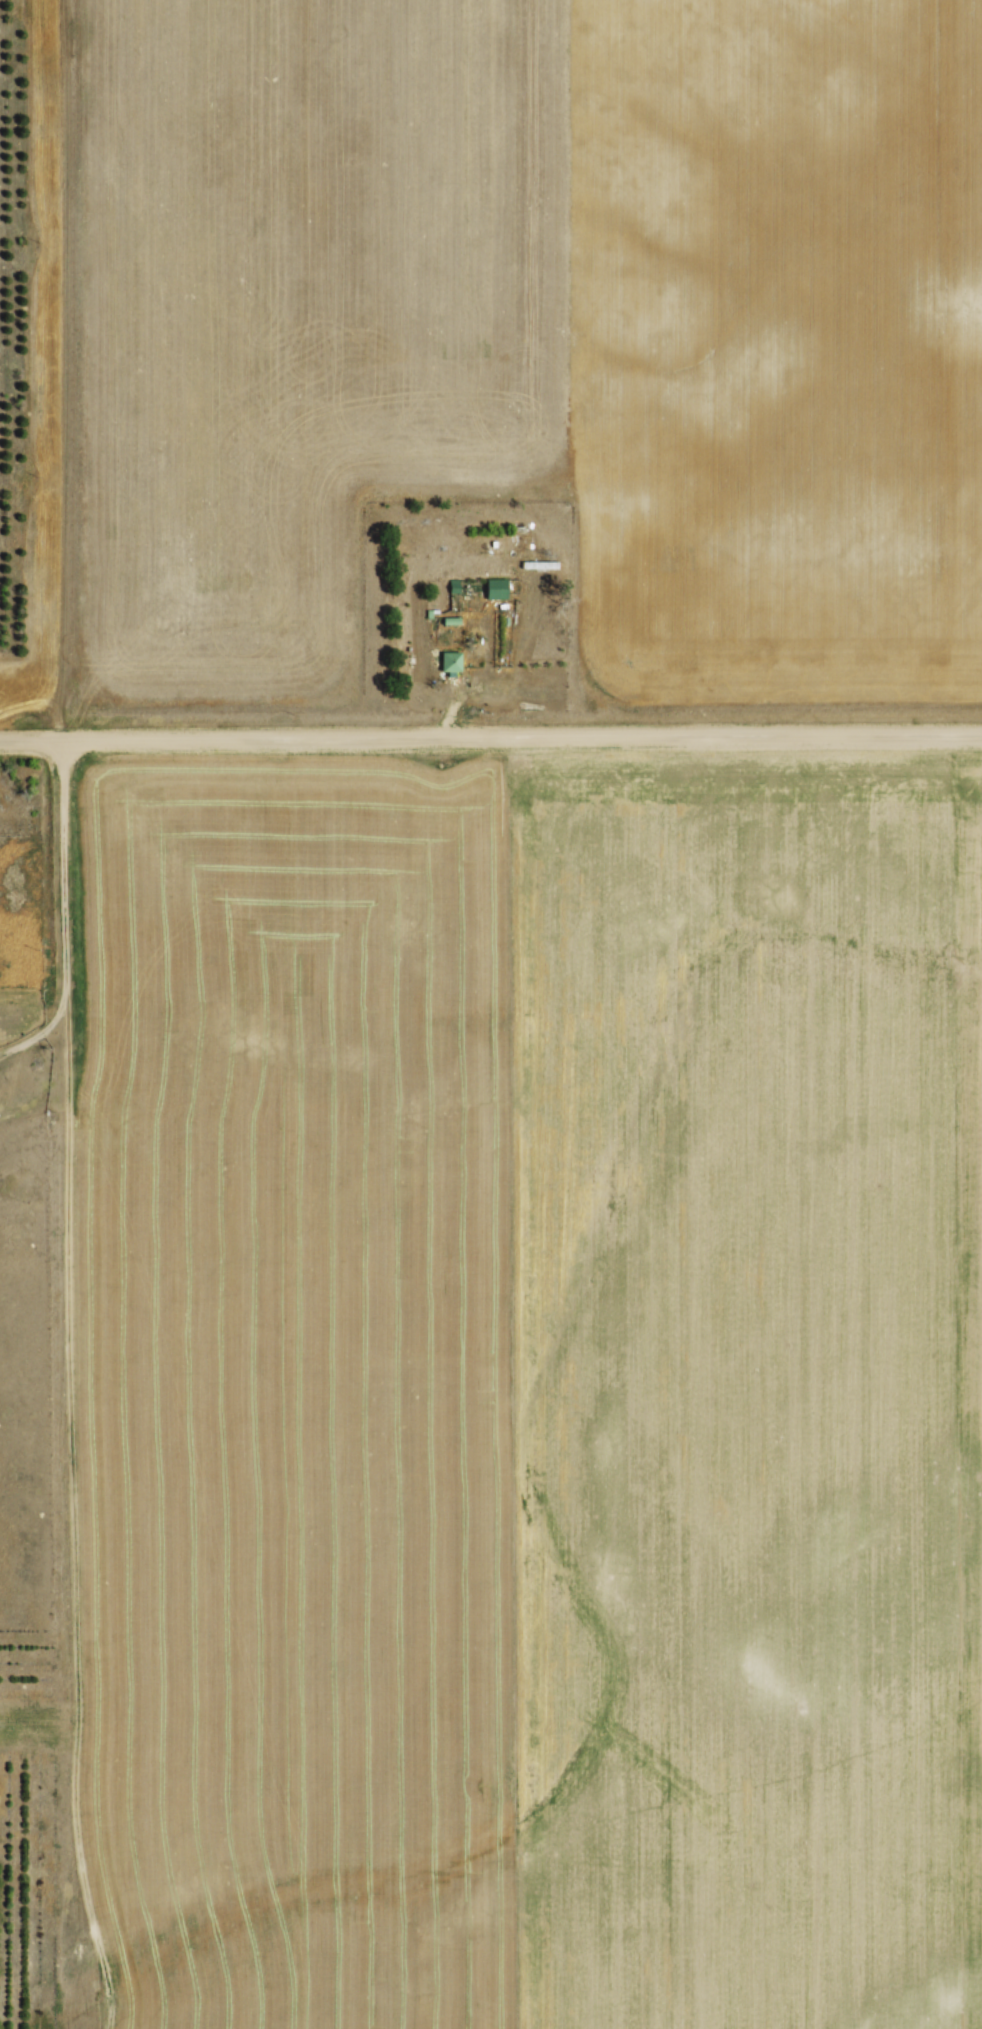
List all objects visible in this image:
building: (538, 558)
building: (538, 563)
building: (495, 582)
building: (451, 614)
building: (448, 656)
road: (490, 737)
road: (69, 917)

